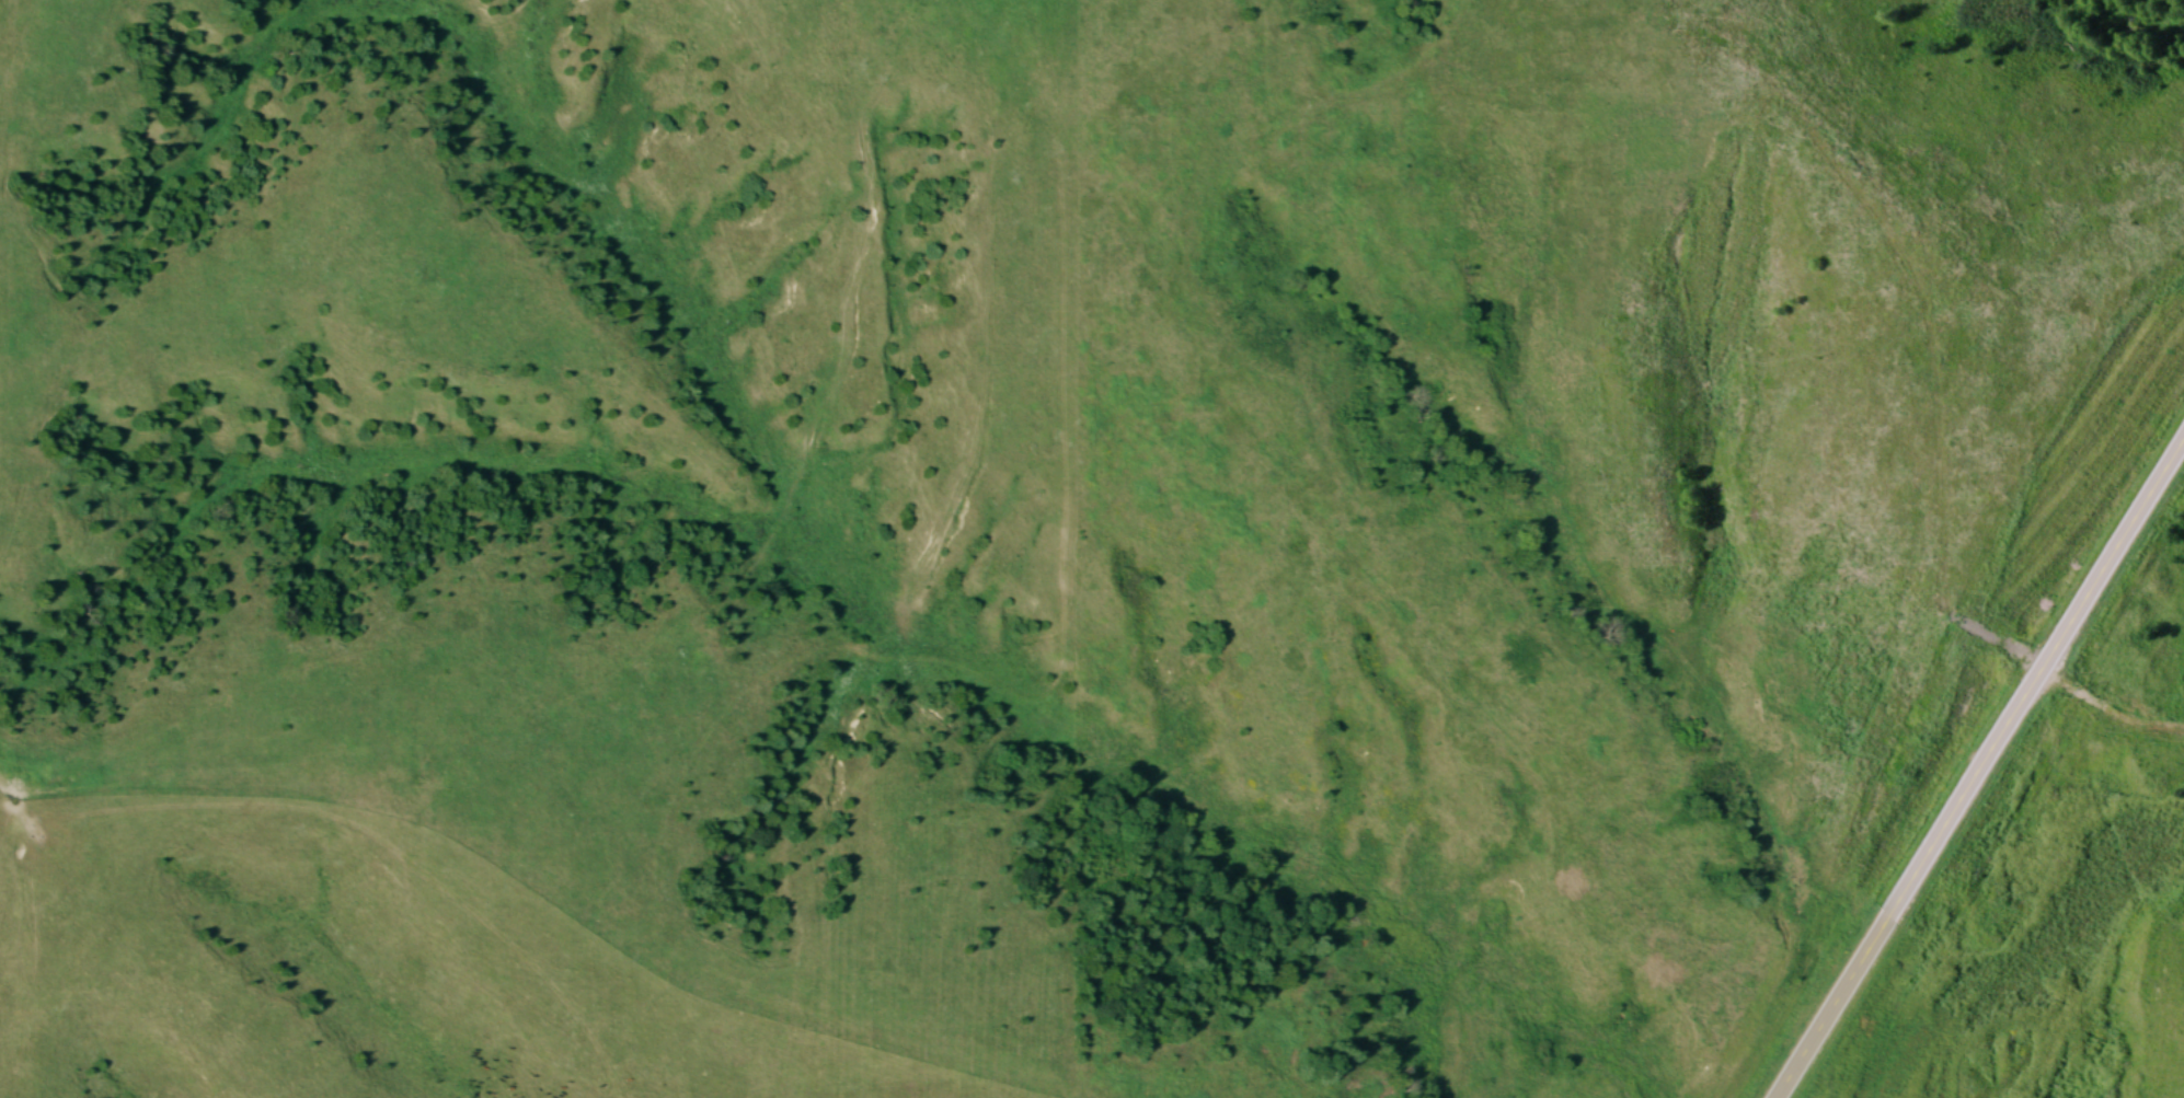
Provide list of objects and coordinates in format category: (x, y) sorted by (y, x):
road: (2108, 713)
road: (1981, 770)

